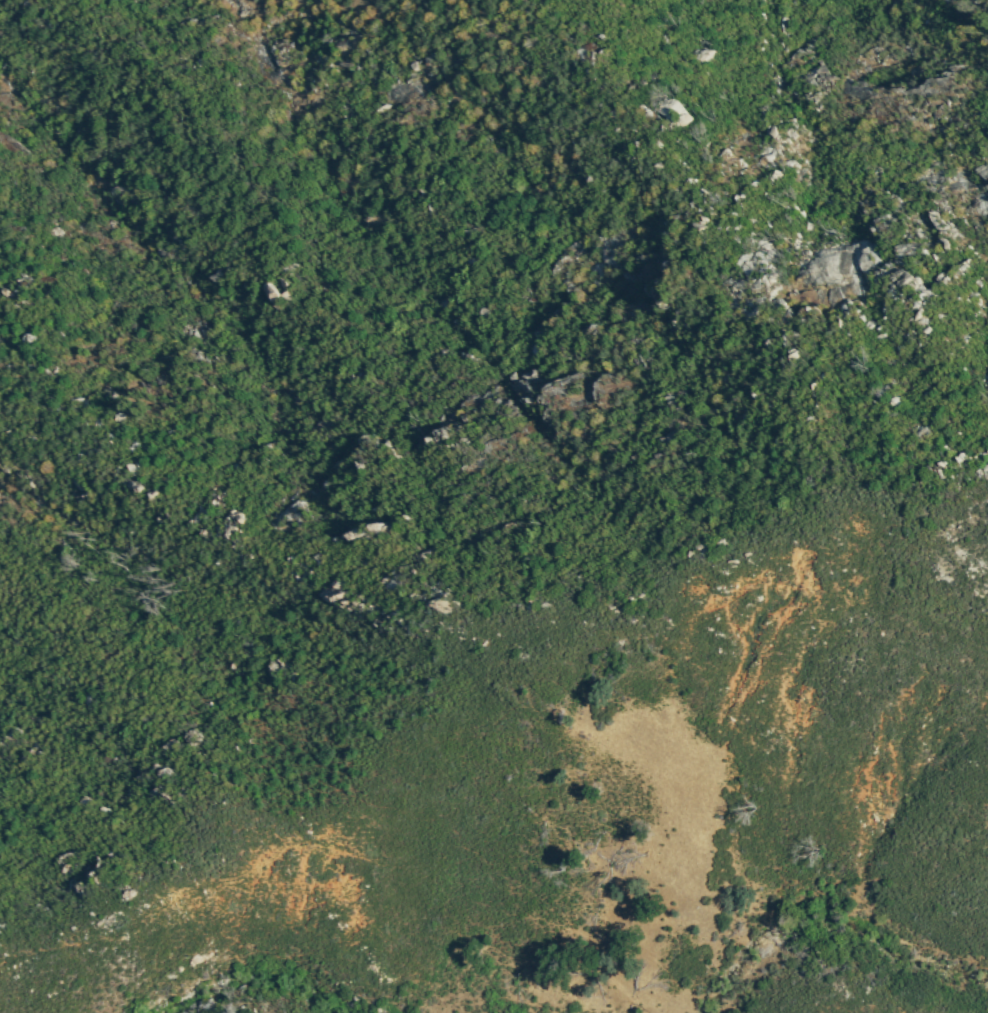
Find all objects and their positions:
road: (378, 859)

